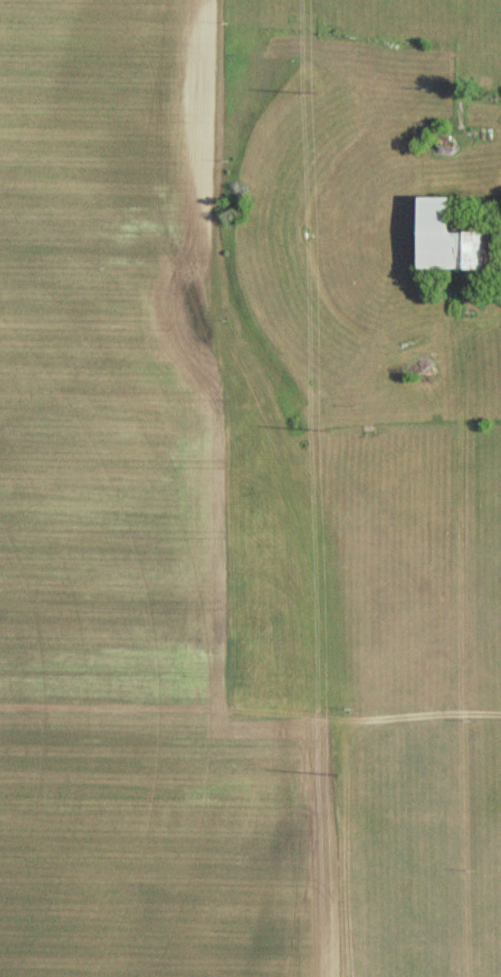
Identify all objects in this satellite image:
building: (451, 239)

